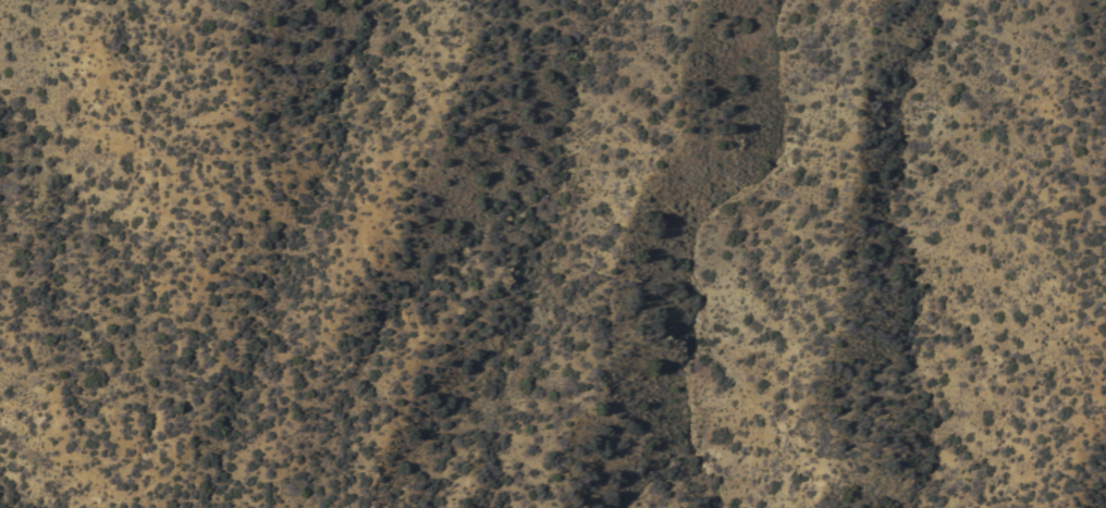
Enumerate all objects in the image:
road: (905, 120)

